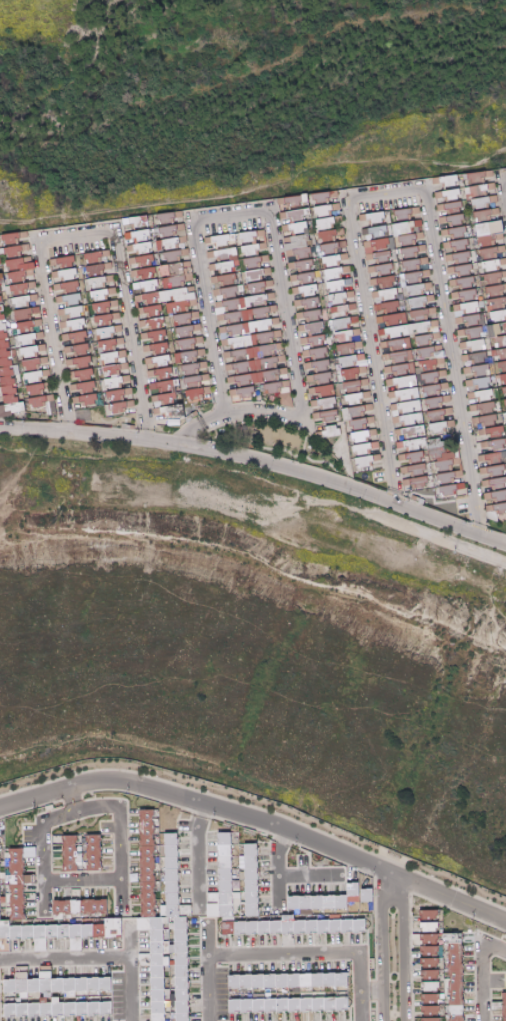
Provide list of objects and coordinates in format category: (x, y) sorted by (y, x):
park: (274, 441)

